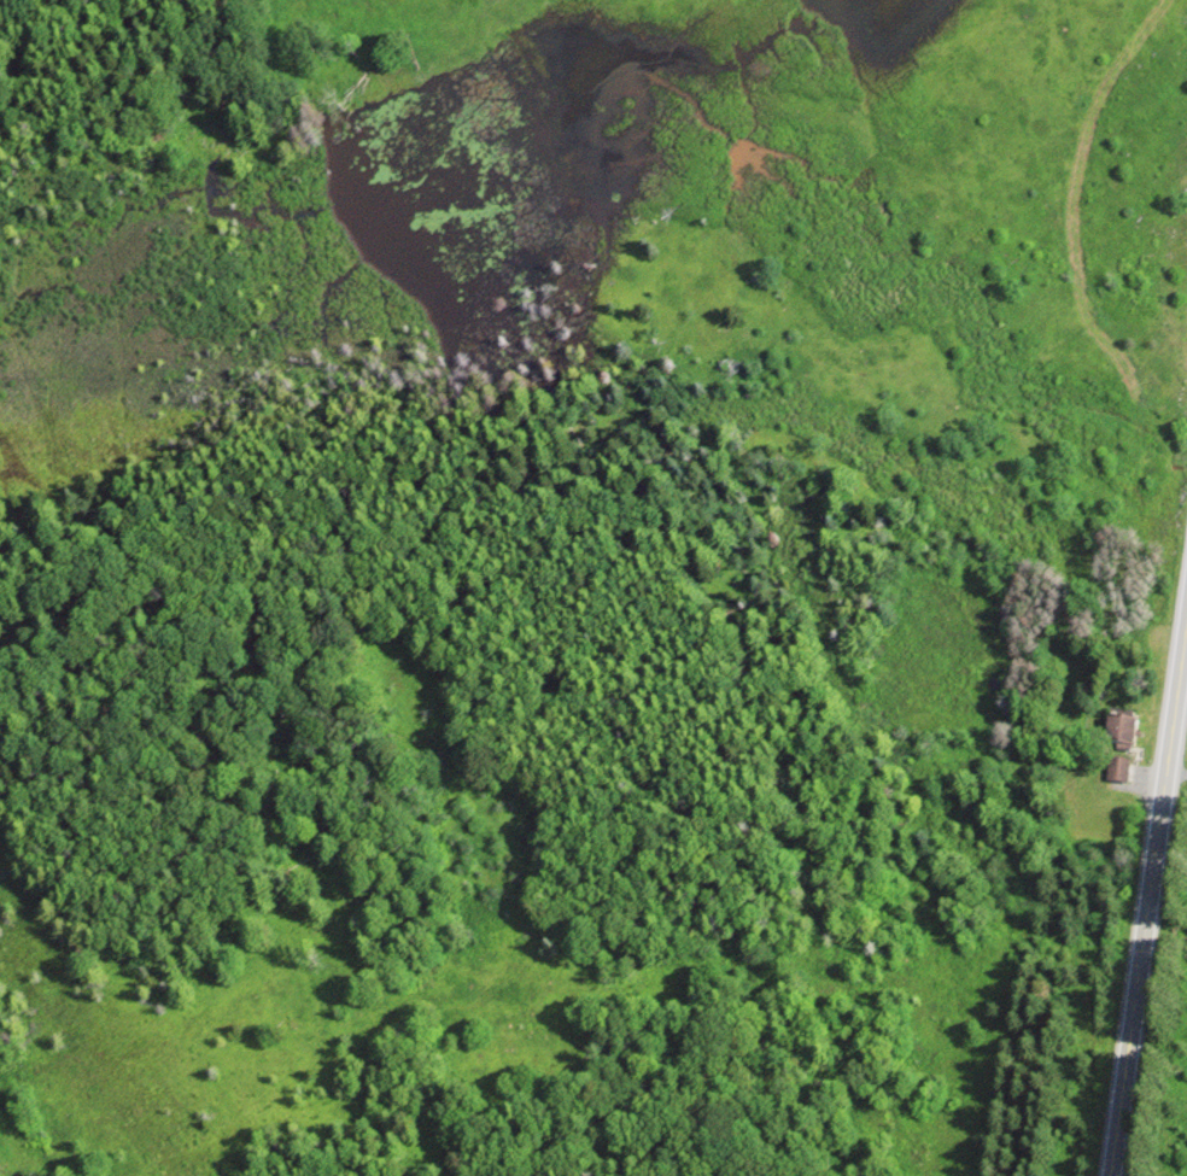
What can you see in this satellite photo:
building: (1116, 731)
building: (1115, 768)
road: (1146, 884)

